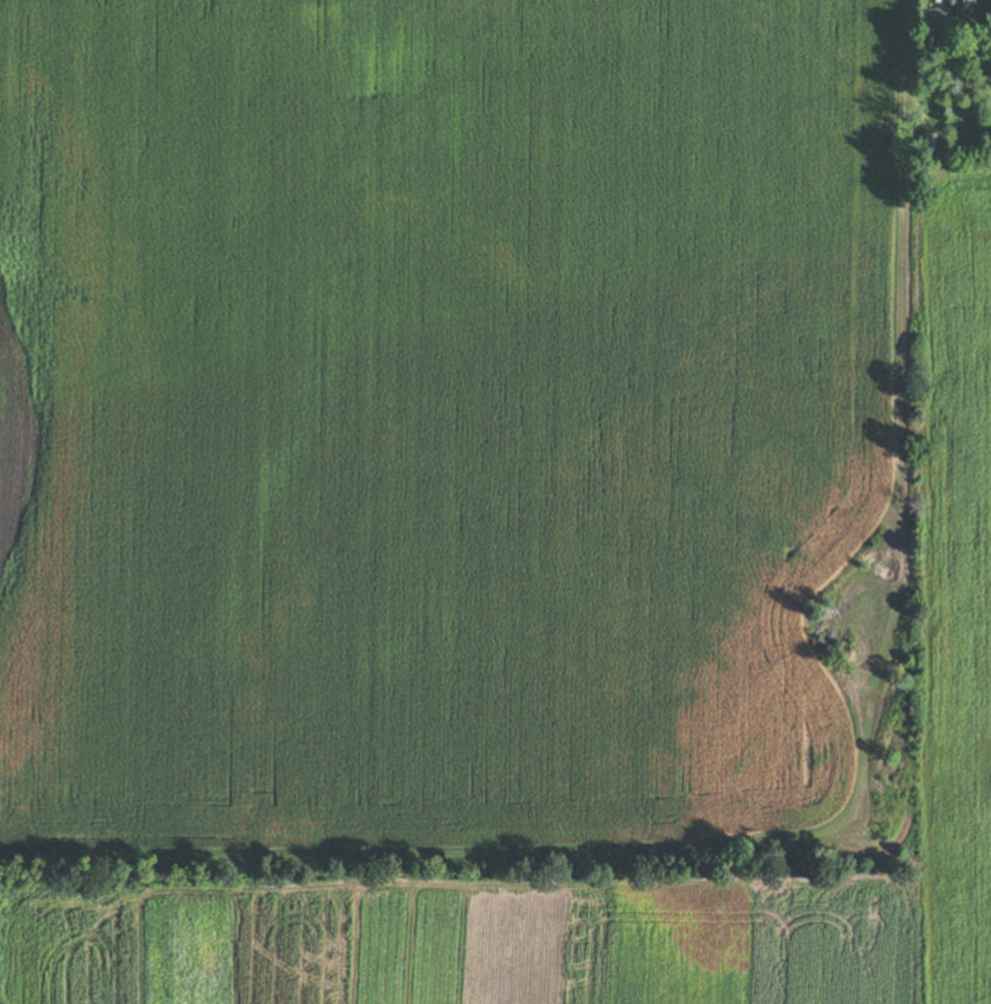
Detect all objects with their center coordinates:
building: (968, 6)
building: (938, 17)
building: (930, 45)
building: (929, 140)
building: (953, 157)

